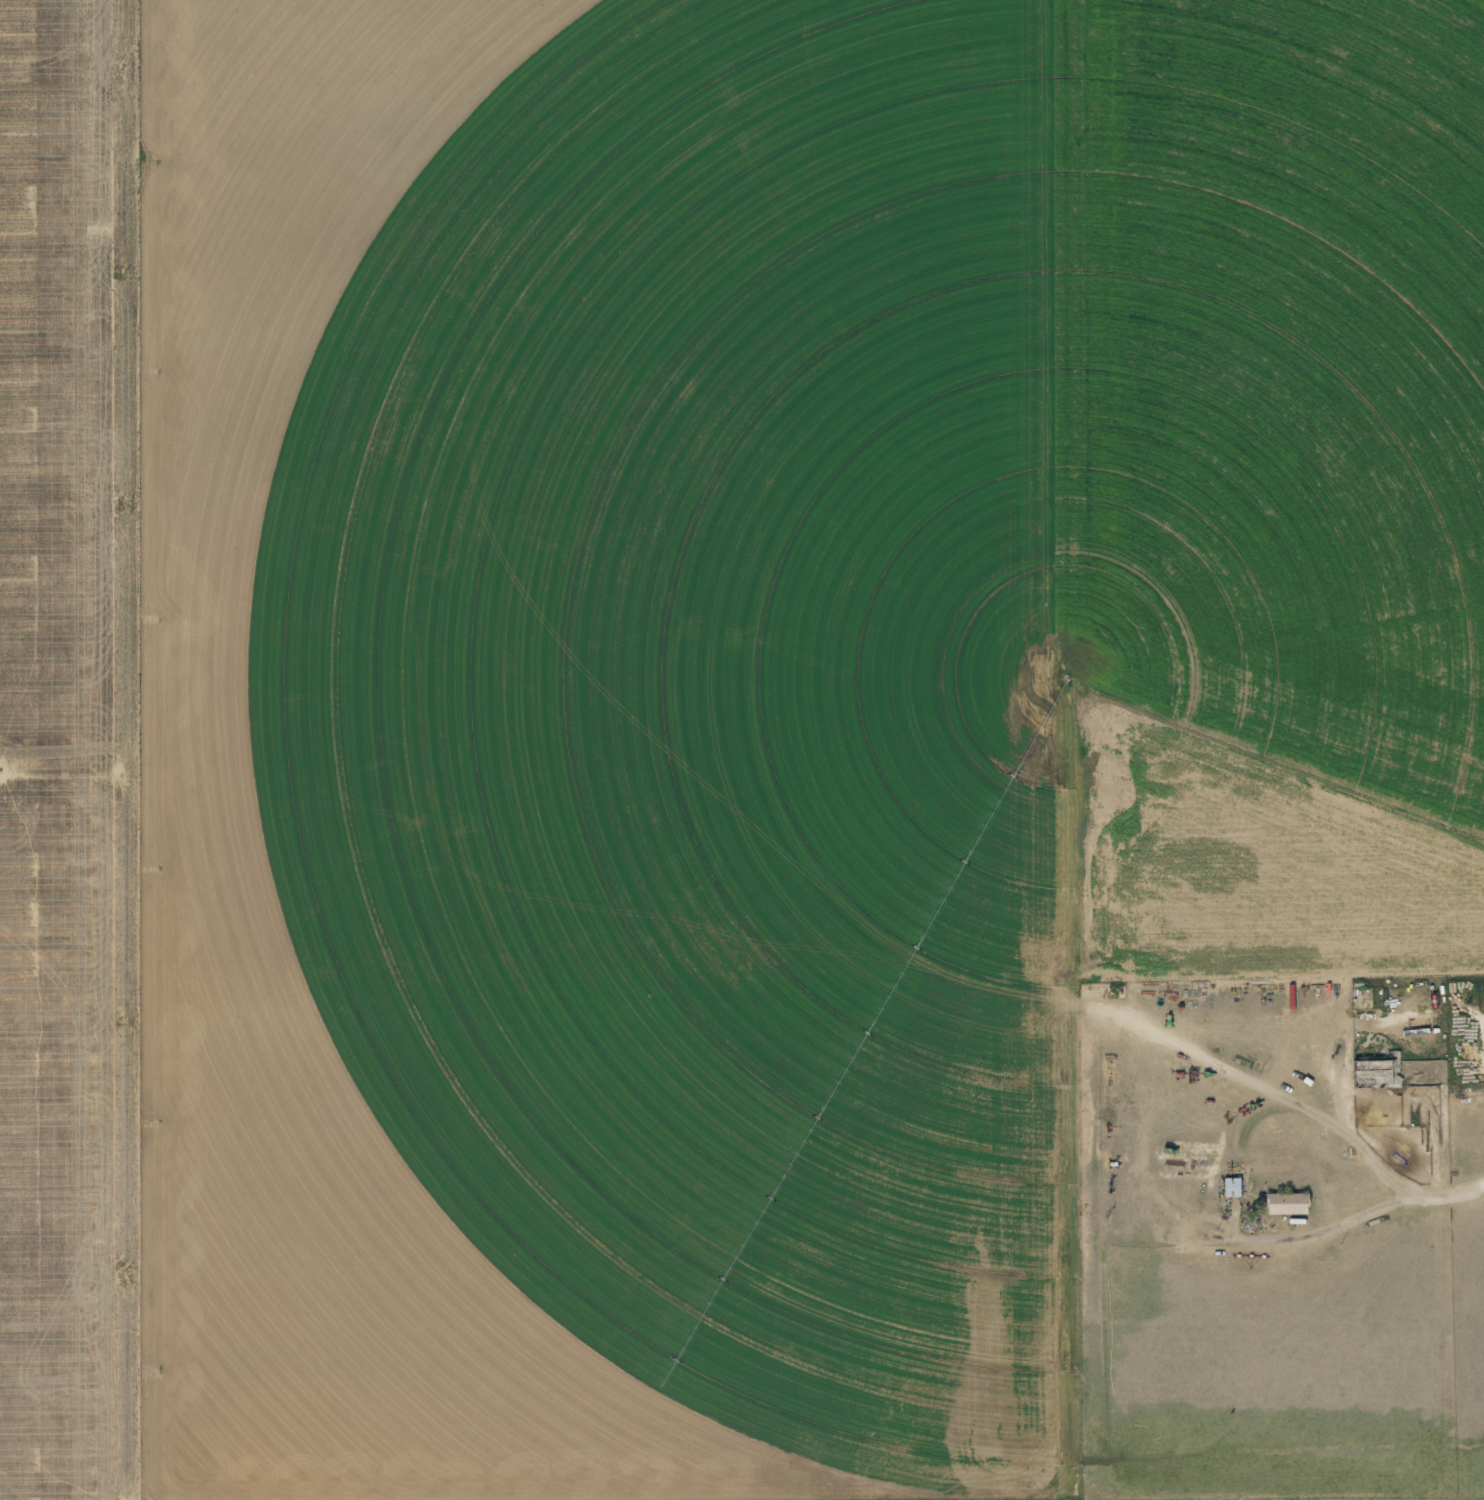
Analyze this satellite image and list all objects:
building: (1364, 1065)
building: (1227, 1185)
building: (1281, 1202)

